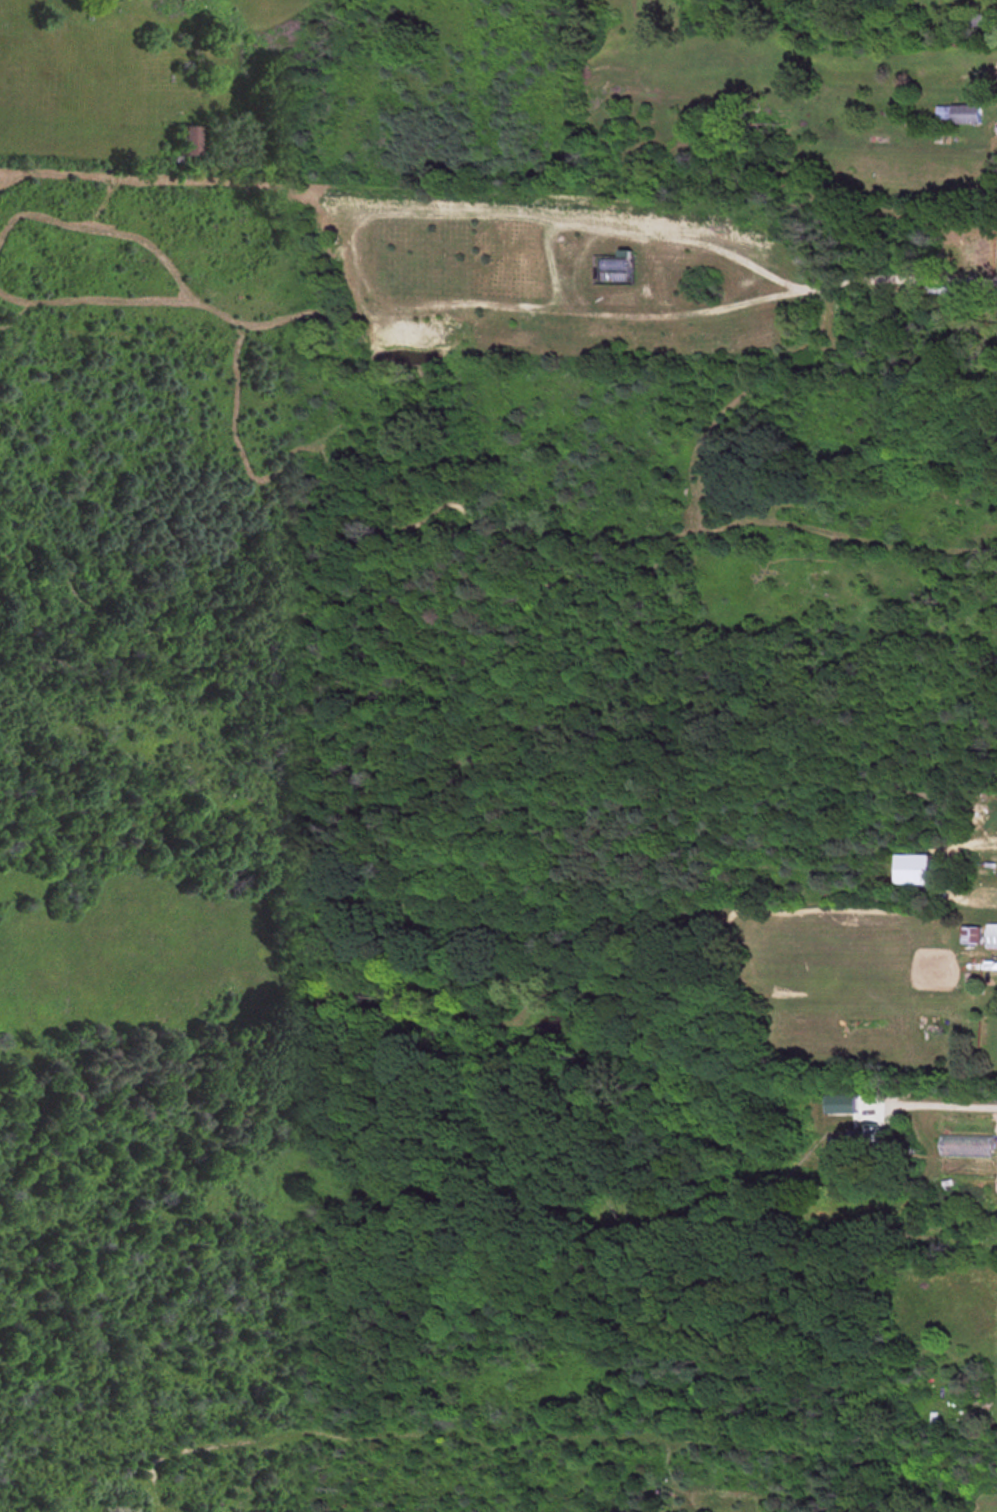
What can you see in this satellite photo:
building: (956, 115)
building: (190, 141)
building: (970, 937)
building: (991, 938)
building: (840, 1105)
road: (942, 1105)
building: (868, 1134)

